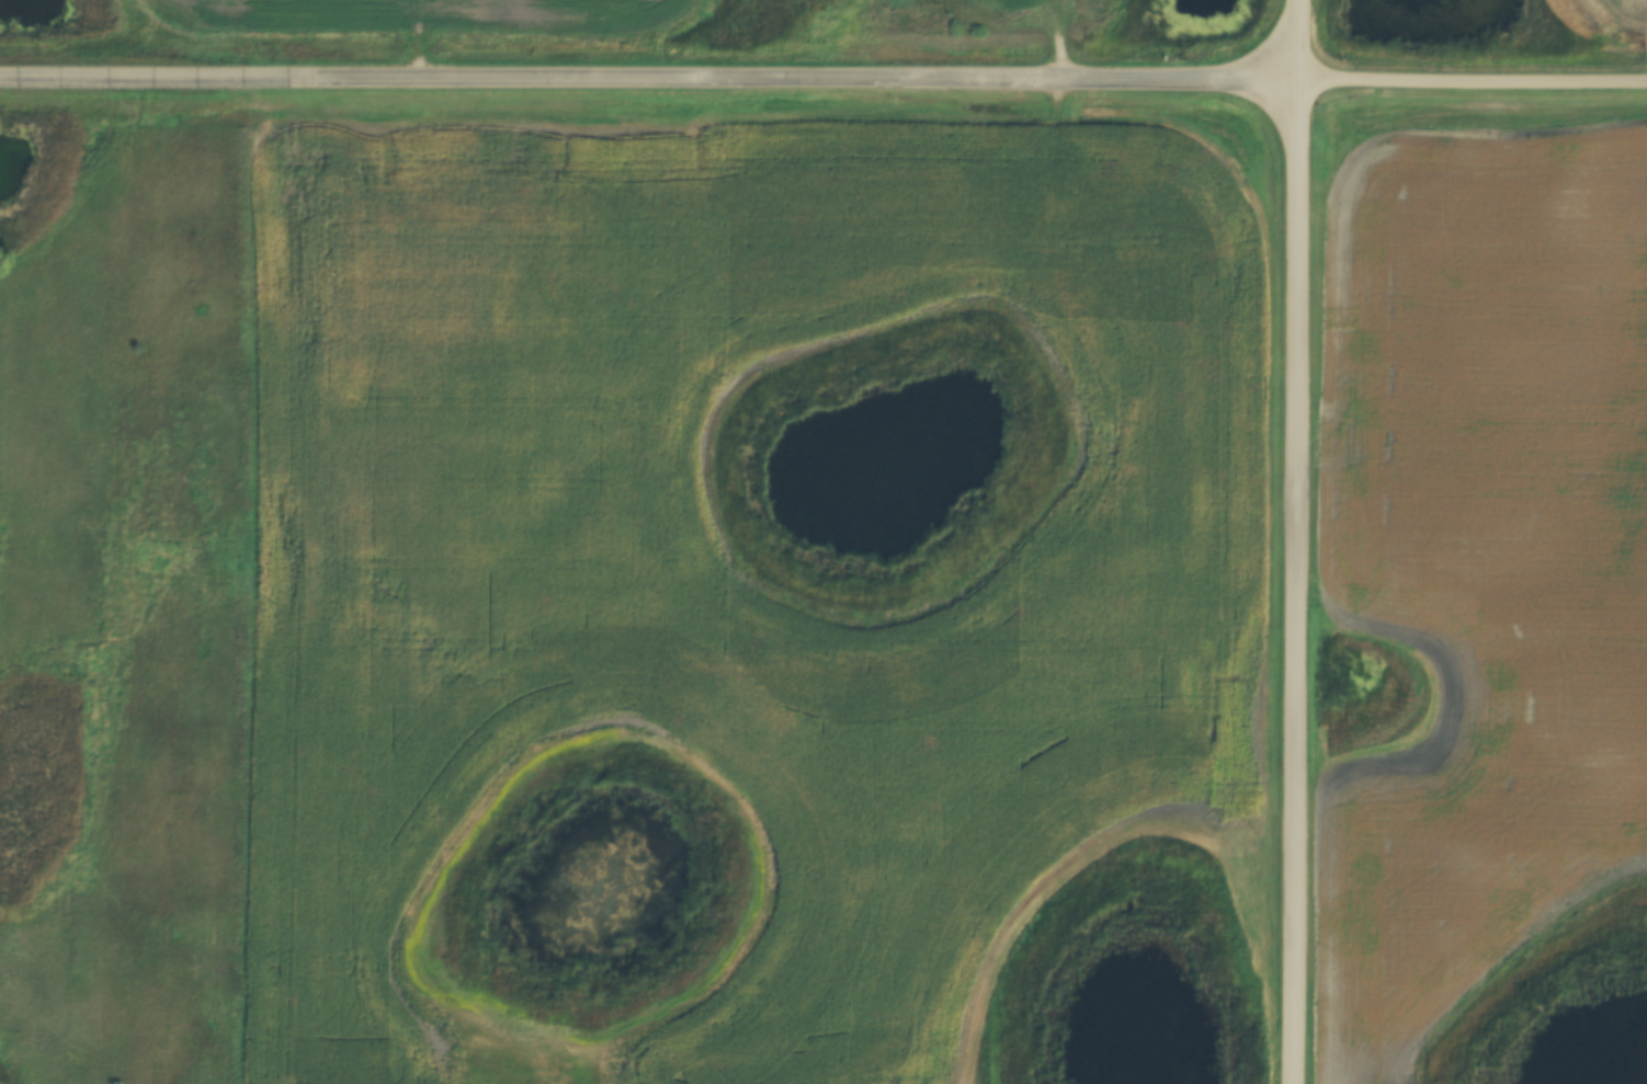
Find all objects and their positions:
road: (1308, 41)
road: (654, 78)
road: (1477, 81)
road: (1305, 582)

